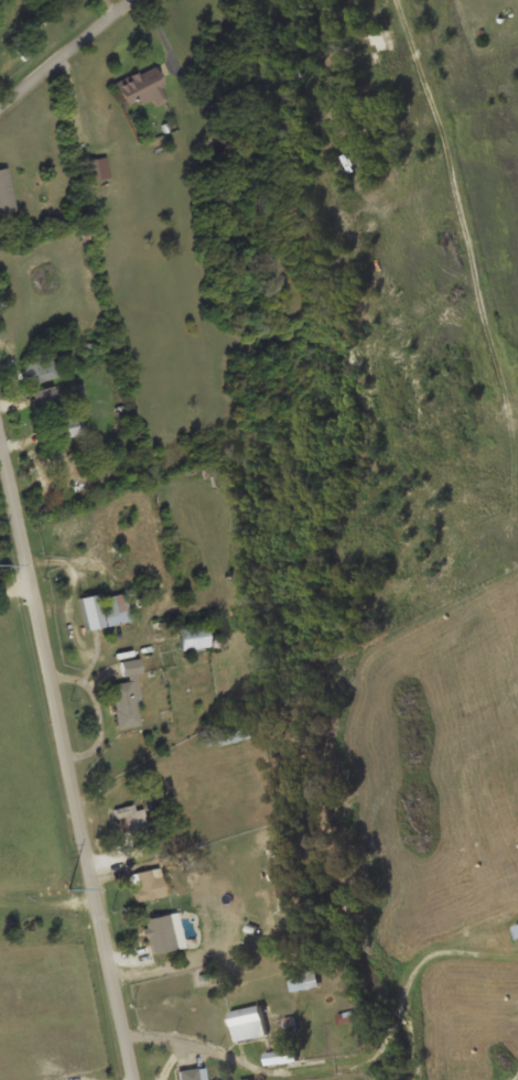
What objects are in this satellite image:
building: (374, 41)
road: (65, 55)
building: (141, 86)
building: (88, 169)
building: (6, 192)
building: (41, 370)
building: (45, 397)
building: (66, 426)
building: (61, 458)
building: (67, 486)
road: (17, 593)
building: (104, 608)
building: (194, 635)
building: (128, 695)
building: (235, 732)
road: (61, 744)
building: (130, 819)
building: (148, 883)
building: (161, 931)
building: (303, 978)
building: (247, 1022)
building: (280, 1056)
building: (191, 1073)
building: (246, 1079)

